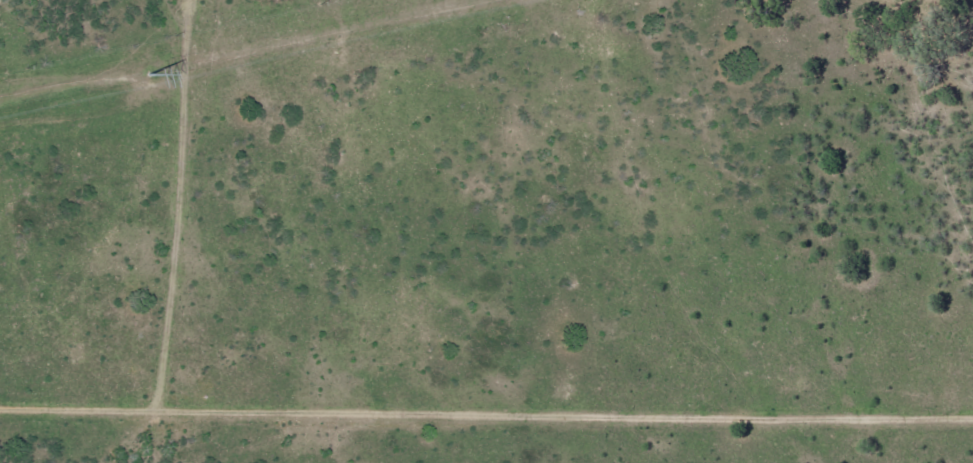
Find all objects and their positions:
power tower: (148, 75)
road: (486, 417)

